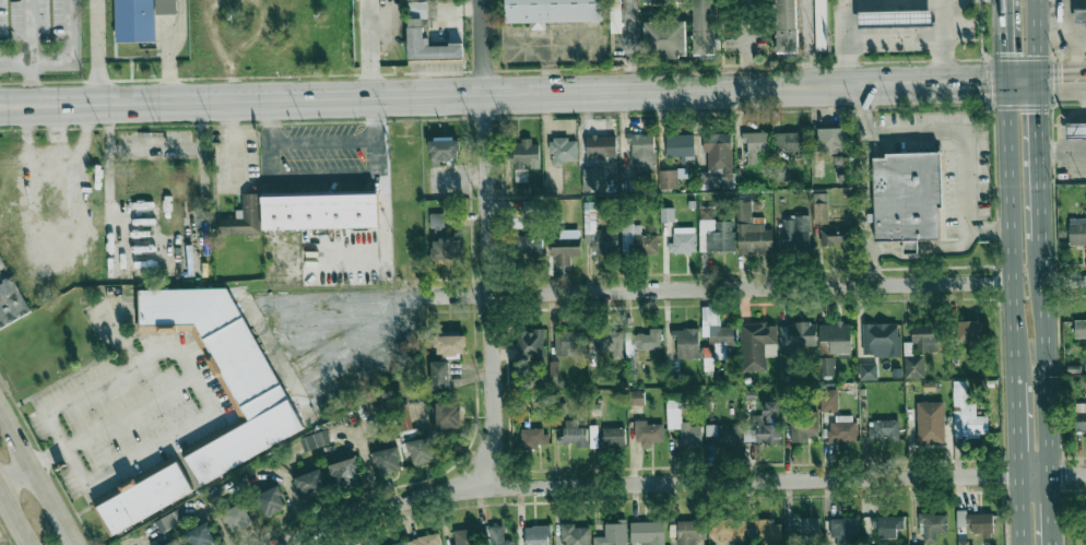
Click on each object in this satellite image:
building: (662, 1)
building: (166, 7)
building: (420, 9)
building: (551, 11)
building: (1079, 14)
building: (614, 15)
building: (894, 17)
building: (135, 21)
road: (1067, 23)
building: (784, 25)
road: (808, 25)
building: (819, 25)
building: (704, 26)
road: (31, 31)
road: (898, 33)
parking lot: (38, 36)
building: (664, 37)
road: (1063, 38)
road: (947, 42)
road: (1003, 42)
road: (1038, 42)
building: (427, 44)
road: (849, 44)
road: (630, 45)
road: (369, 49)
road: (167, 50)
traffic signals: (1004, 51)
road: (96, 52)
road: (61, 57)
road: (1072, 63)
road: (811, 68)
traffic signals: (1059, 82)
road: (1062, 82)
road: (1022, 83)
road: (32, 84)
road: (960, 84)
traffic signals: (984, 84)
road: (457, 94)
road: (862, 109)
traffic signals: (1039, 112)
road: (107, 125)
building: (1075, 130)
building: (831, 140)
road: (322, 141)
building: (790, 141)
building: (755, 144)
building: (601, 146)
building: (681, 146)
building: (444, 150)
building: (563, 151)
building: (641, 151)
building: (523, 161)
building: (718, 162)
road: (1040, 162)
building: (781, 171)
building: (671, 177)
building: (593, 178)
building: (907, 199)
building: (821, 208)
building: (320, 211)
building: (666, 214)
building: (243, 217)
building: (436, 220)
road: (989, 229)
road: (1011, 229)
building: (1077, 230)
building: (752, 232)
building: (795, 233)
building: (835, 237)
building: (638, 240)
building: (683, 240)
road: (491, 242)
building: (528, 244)
road: (865, 246)
building: (447, 248)
building: (565, 249)
road: (177, 251)
road: (866, 268)
road: (1065, 279)
road: (700, 288)
building: (11, 303)
road: (108, 324)
building: (1079, 328)
building: (969, 330)
building: (724, 334)
building: (798, 334)
building: (925, 336)
building: (835, 337)
building: (881, 339)
building: (648, 340)
building: (568, 342)
building: (610, 342)
building: (686, 343)
building: (450, 344)
building: (530, 344)
building: (755, 344)
road: (379, 353)
road: (1046, 357)
building: (787, 362)
building: (826, 366)
building: (914, 366)
building: (554, 368)
building: (224, 370)
building: (867, 371)
building: (440, 375)
building: (636, 396)
building: (828, 400)
parking lot: (131, 402)
building: (771, 408)
road: (129, 410)
building: (967, 414)
building: (448, 415)
building: (1079, 417)
road: (202, 418)
road: (109, 419)
building: (403, 419)
building: (931, 420)
building: (682, 425)
building: (805, 425)
road: (1017, 426)
building: (842, 428)
building: (884, 429)
building: (762, 431)
building: (648, 433)
building: (572, 434)
building: (722, 435)
building: (533, 437)
building: (321, 438)
building: (610, 438)
building: (422, 450)
building: (387, 457)
building: (344, 472)
road: (15, 475)
road: (37, 478)
road: (681, 483)
building: (310, 484)
building: (142, 496)
building: (271, 500)
road: (1020, 510)
road: (1050, 510)
road: (15, 518)
building: (238, 518)
building: (169, 520)
building: (976, 522)
building: (889, 525)
building: (932, 525)
building: (845, 529)
building: (767, 530)
building: (648, 532)
building: (689, 532)
building: (725, 532)
building: (575, 534)
building: (613, 534)
building: (201, 535)
building: (496, 535)
building: (536, 535)
building: (464, 536)
building: (425, 540)
building: (173, 543)
building: (966, 543)
building: (398, 544)
building: (923, 544)

